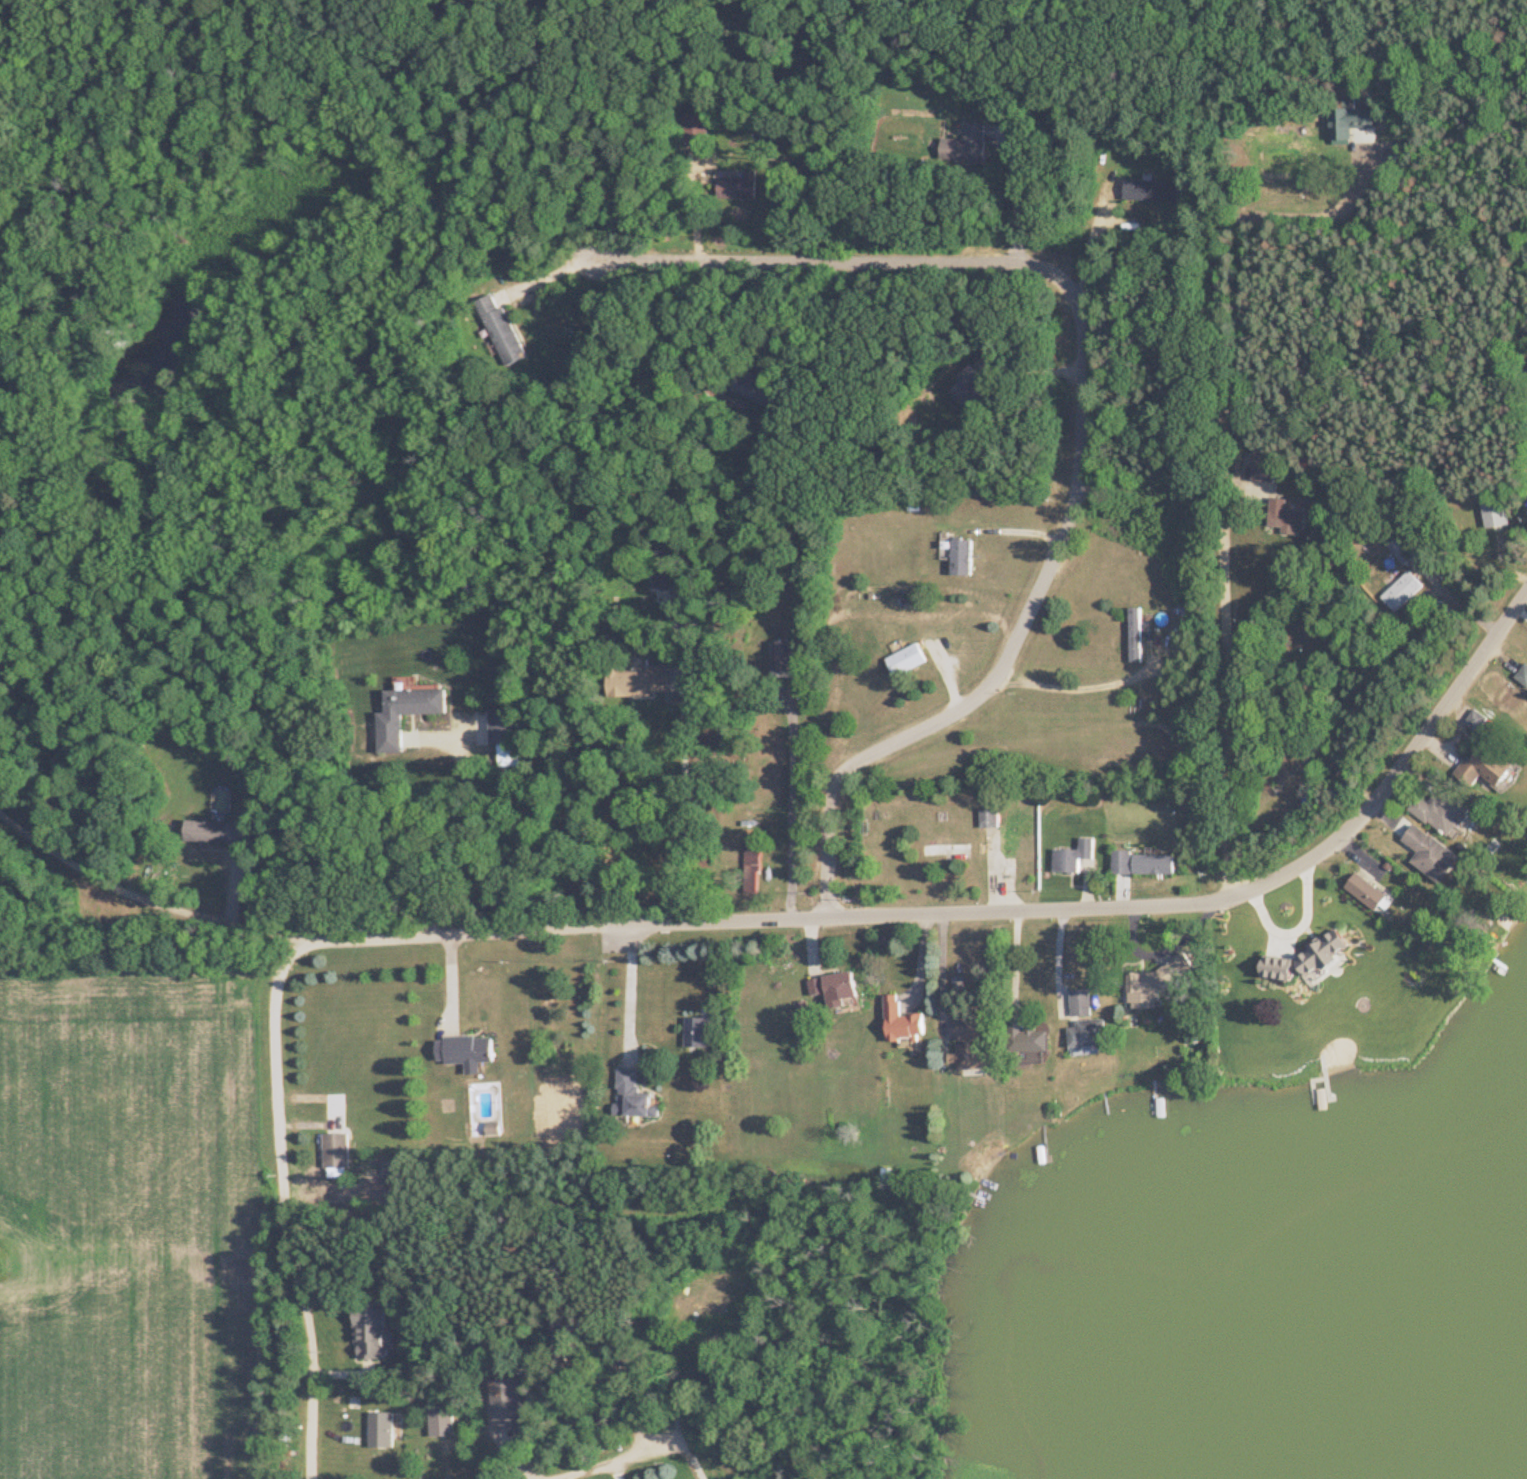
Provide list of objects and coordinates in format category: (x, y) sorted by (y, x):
building: (1341, 123)
building: (696, 127)
building: (965, 145)
building: (737, 185)
building: (1152, 191)
road: (1017, 196)
road: (1090, 245)
road: (1221, 253)
road: (547, 275)
building: (502, 328)
road: (685, 334)
building: (756, 388)
building: (968, 388)
road: (1083, 415)
building: (1265, 466)
building: (1496, 511)
building: (1286, 517)
building: (1405, 547)
building: (962, 556)
building: (662, 569)
building: (1403, 590)
road: (1458, 598)
building: (1136, 634)
building: (784, 654)
building: (906, 659)
building: (2, 672)
building: (1523, 674)
road: (1229, 676)
building: (638, 681)
road: (1081, 684)
building: (406, 710)
building: (504, 737)
building: (1490, 767)
road: (687, 802)
building: (1441, 810)
road: (794, 814)
building: (989, 817)
building: (219, 830)
road: (463, 841)
building: (947, 848)
building: (1432, 852)
building: (1074, 855)
building: (1123, 860)
building: (1154, 862)
building: (752, 865)
road: (140, 890)
building: (1368, 890)
road: (1148, 907)
road: (445, 932)
building: (1340, 943)
road: (1017, 964)
road: (944, 974)
building: (1153, 982)
building: (835, 987)
road: (632, 988)
building: (1082, 1002)
building: (1322, 1003)
building: (903, 1019)
building: (697, 1031)
building: (1089, 1032)
building: (1029, 1040)
building: (971, 1042)
building: (466, 1049)
building: (635, 1095)
building: (494, 1129)
building: (338, 1150)
road: (293, 1228)
building: (371, 1332)
building: (509, 1401)
building: (443, 1420)
building: (383, 1429)
road: (604, 1458)

